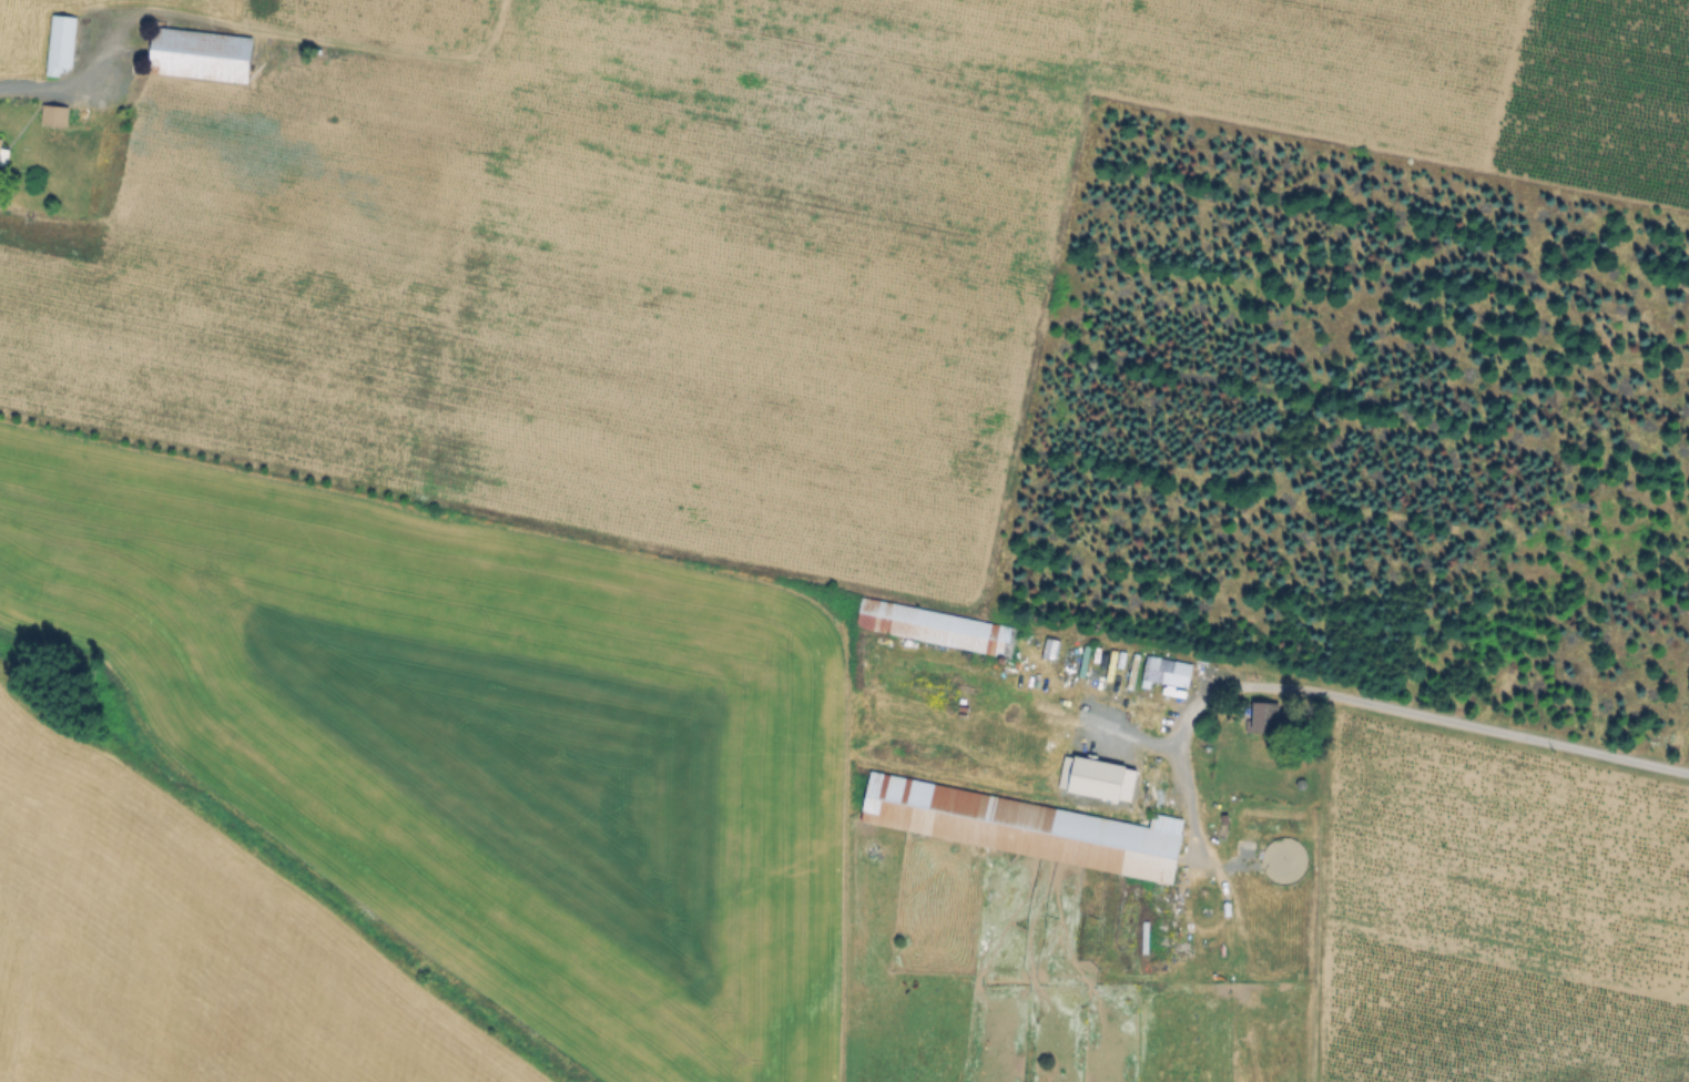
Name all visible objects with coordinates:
road: (340, 41)
building: (62, 44)
building: (202, 53)
road: (88, 69)
building: (55, 114)
building: (3, 153)
building: (937, 625)
building: (1168, 673)
road: (1403, 711)
building: (1265, 718)
building: (1268, 782)
building: (1019, 827)

